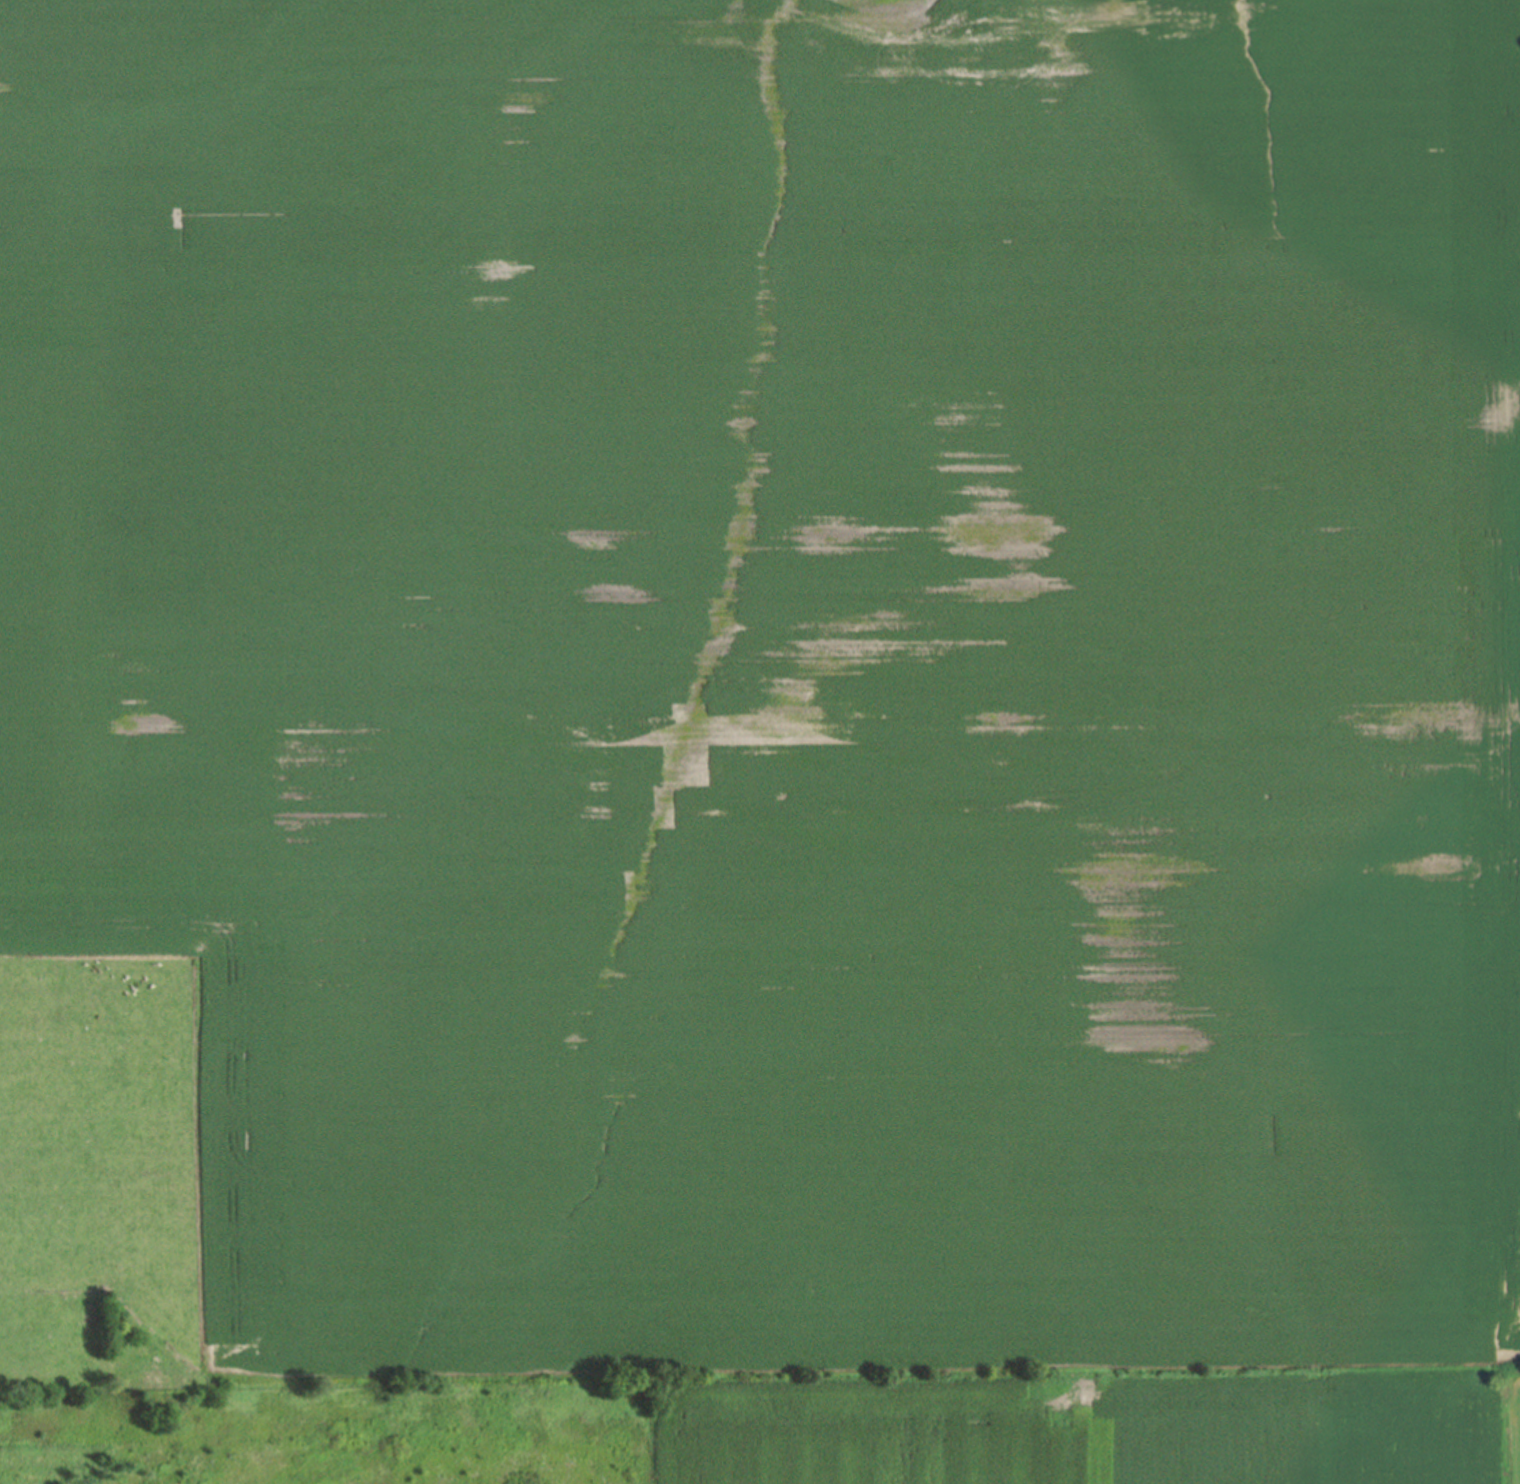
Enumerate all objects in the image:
landfill: (331, 1437)

